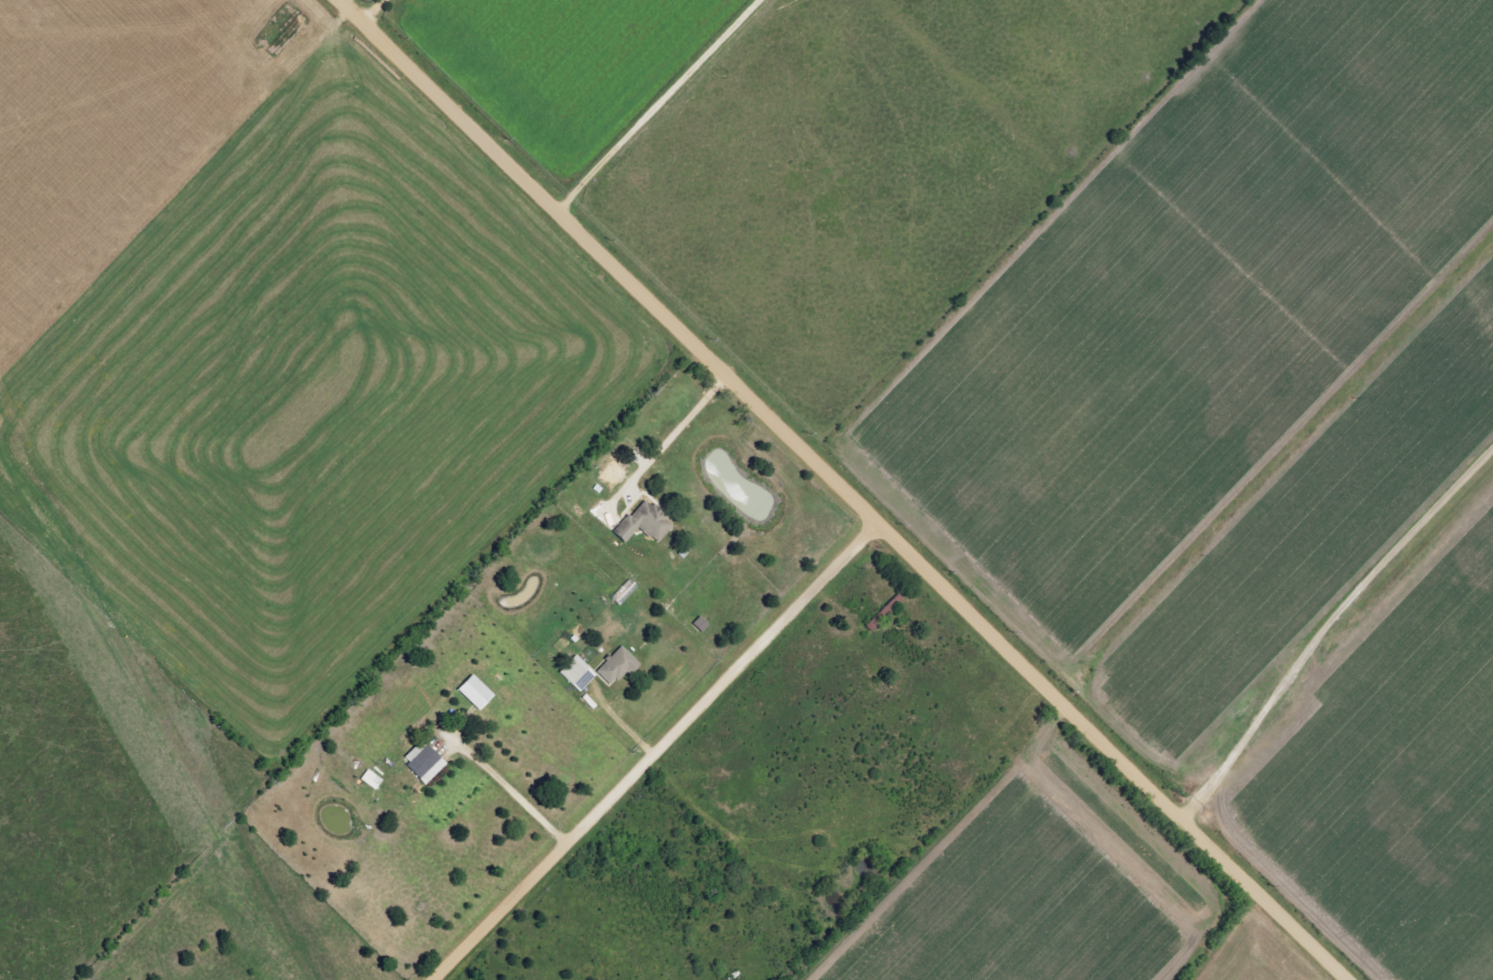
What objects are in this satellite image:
road: (381, 11)
road: (668, 108)
road: (613, 263)
road: (675, 430)
building: (643, 523)
building: (699, 624)
road: (1333, 637)
building: (615, 666)
building: (576, 674)
building: (473, 692)
road: (1117, 752)
road: (658, 753)
building: (422, 762)
building: (370, 779)
road: (518, 799)

